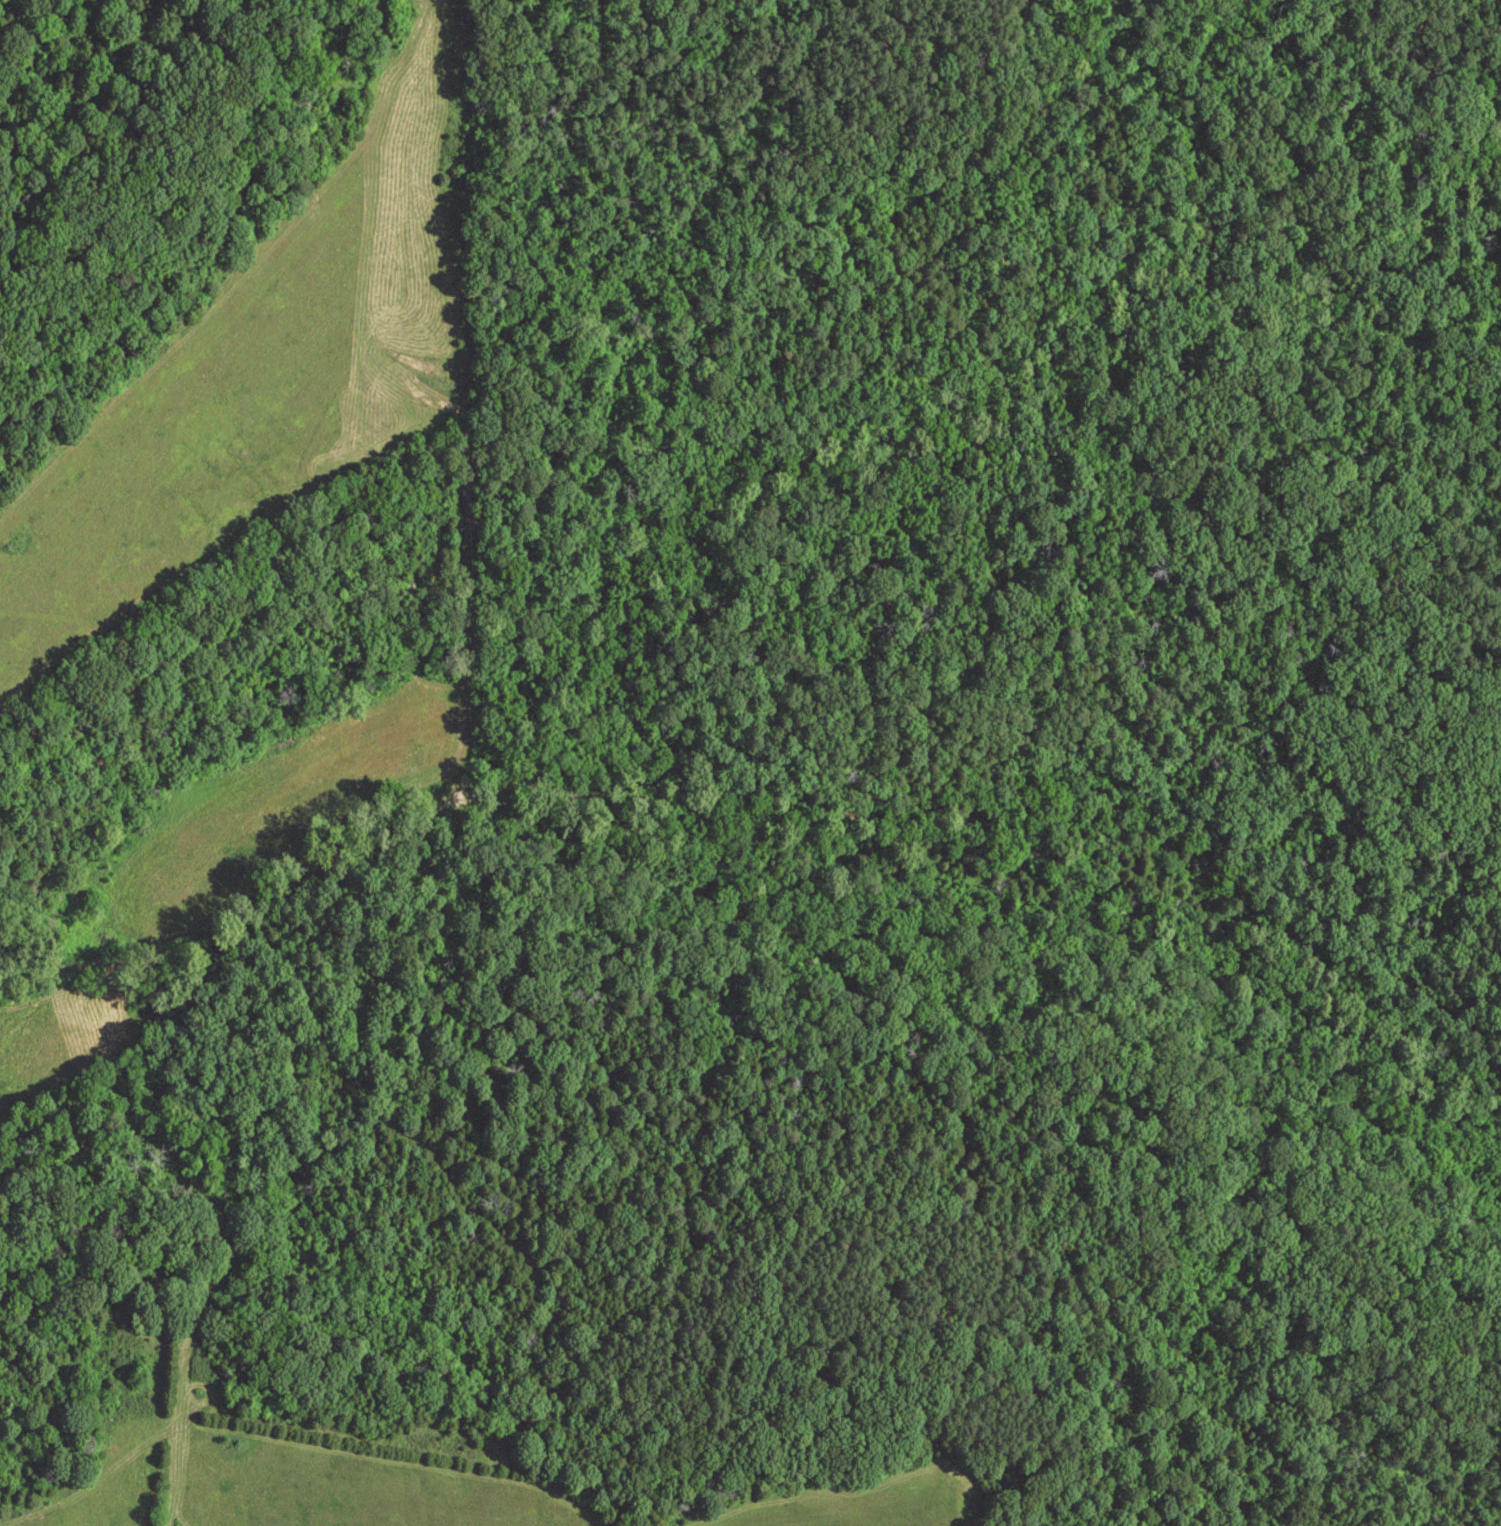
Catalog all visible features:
road: (375, 801)

